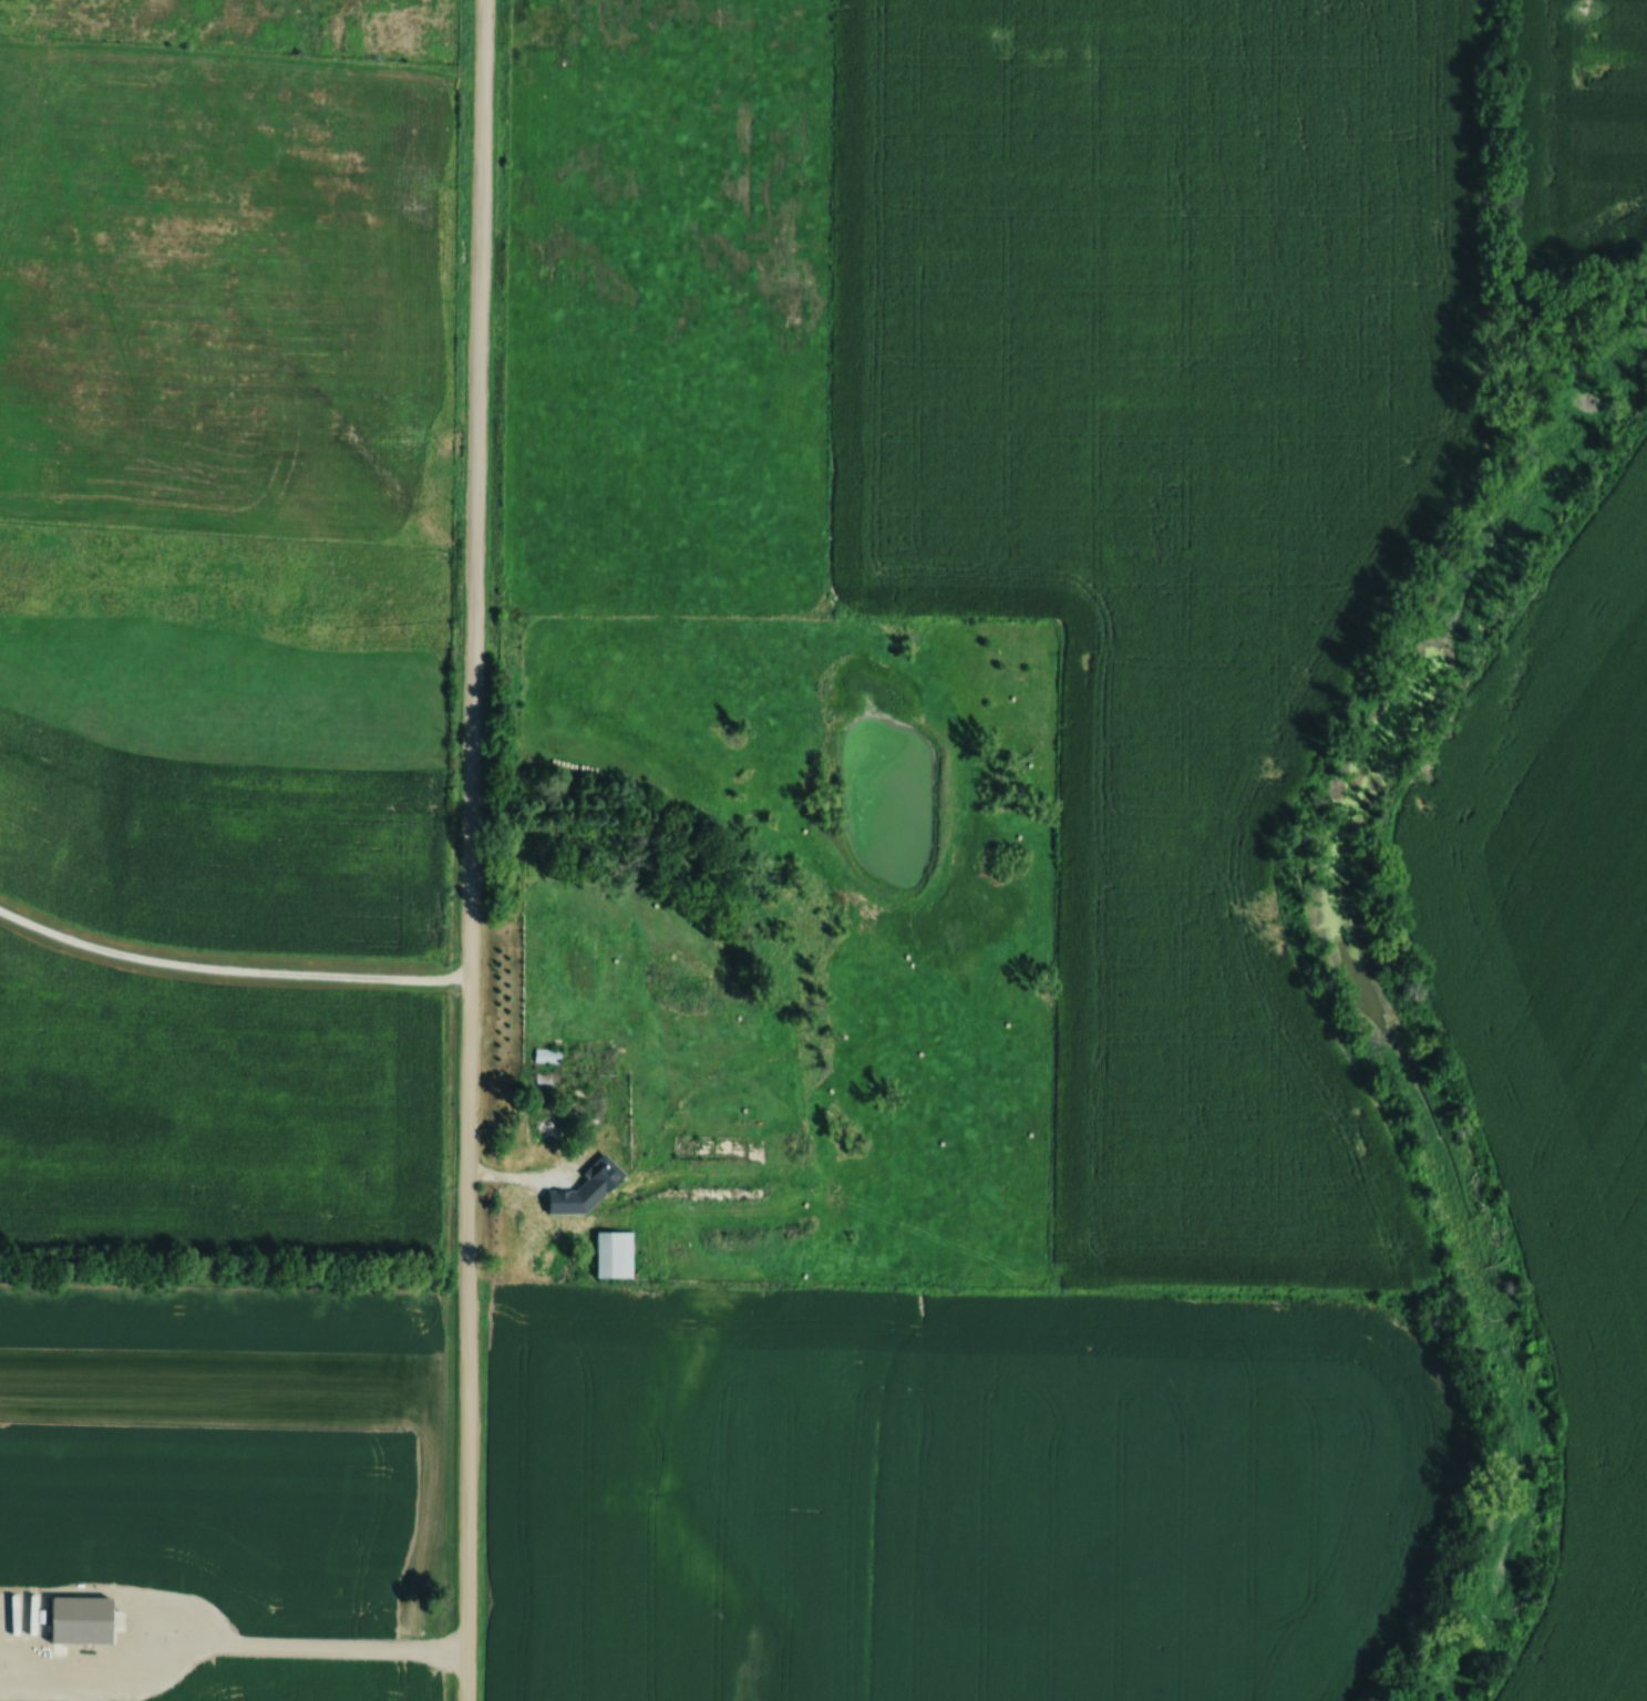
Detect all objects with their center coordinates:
road: (473, 849)
road: (231, 969)
building: (549, 1054)
building: (548, 1127)
building: (578, 1203)
building: (618, 1254)
airport runway: (206, 1362)
airport: (231, 1499)
road: (317, 1642)

